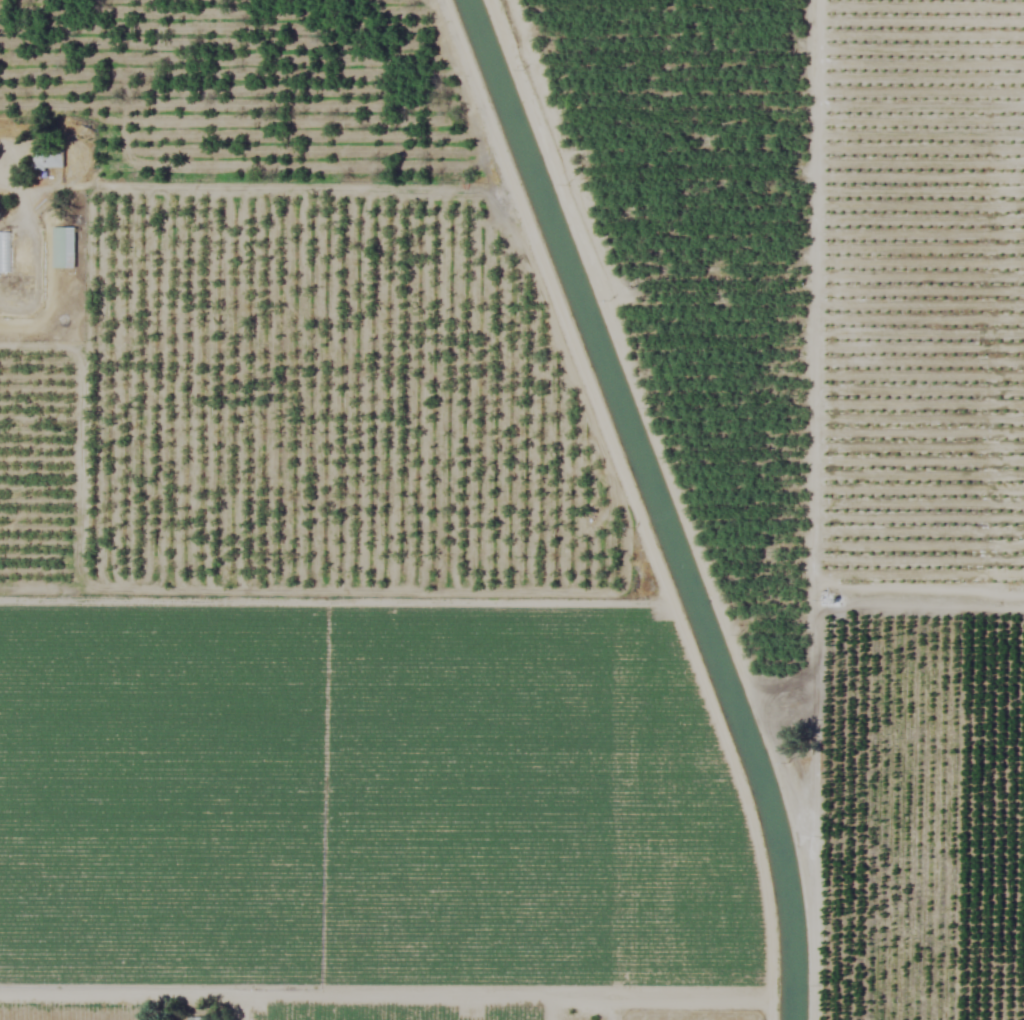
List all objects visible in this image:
building: (47, 158)
building: (62, 248)
building: (4, 253)
crop: (512, 510)
road: (301, 998)
road: (242, 1009)
road: (605, 1011)
building: (195, 1019)

